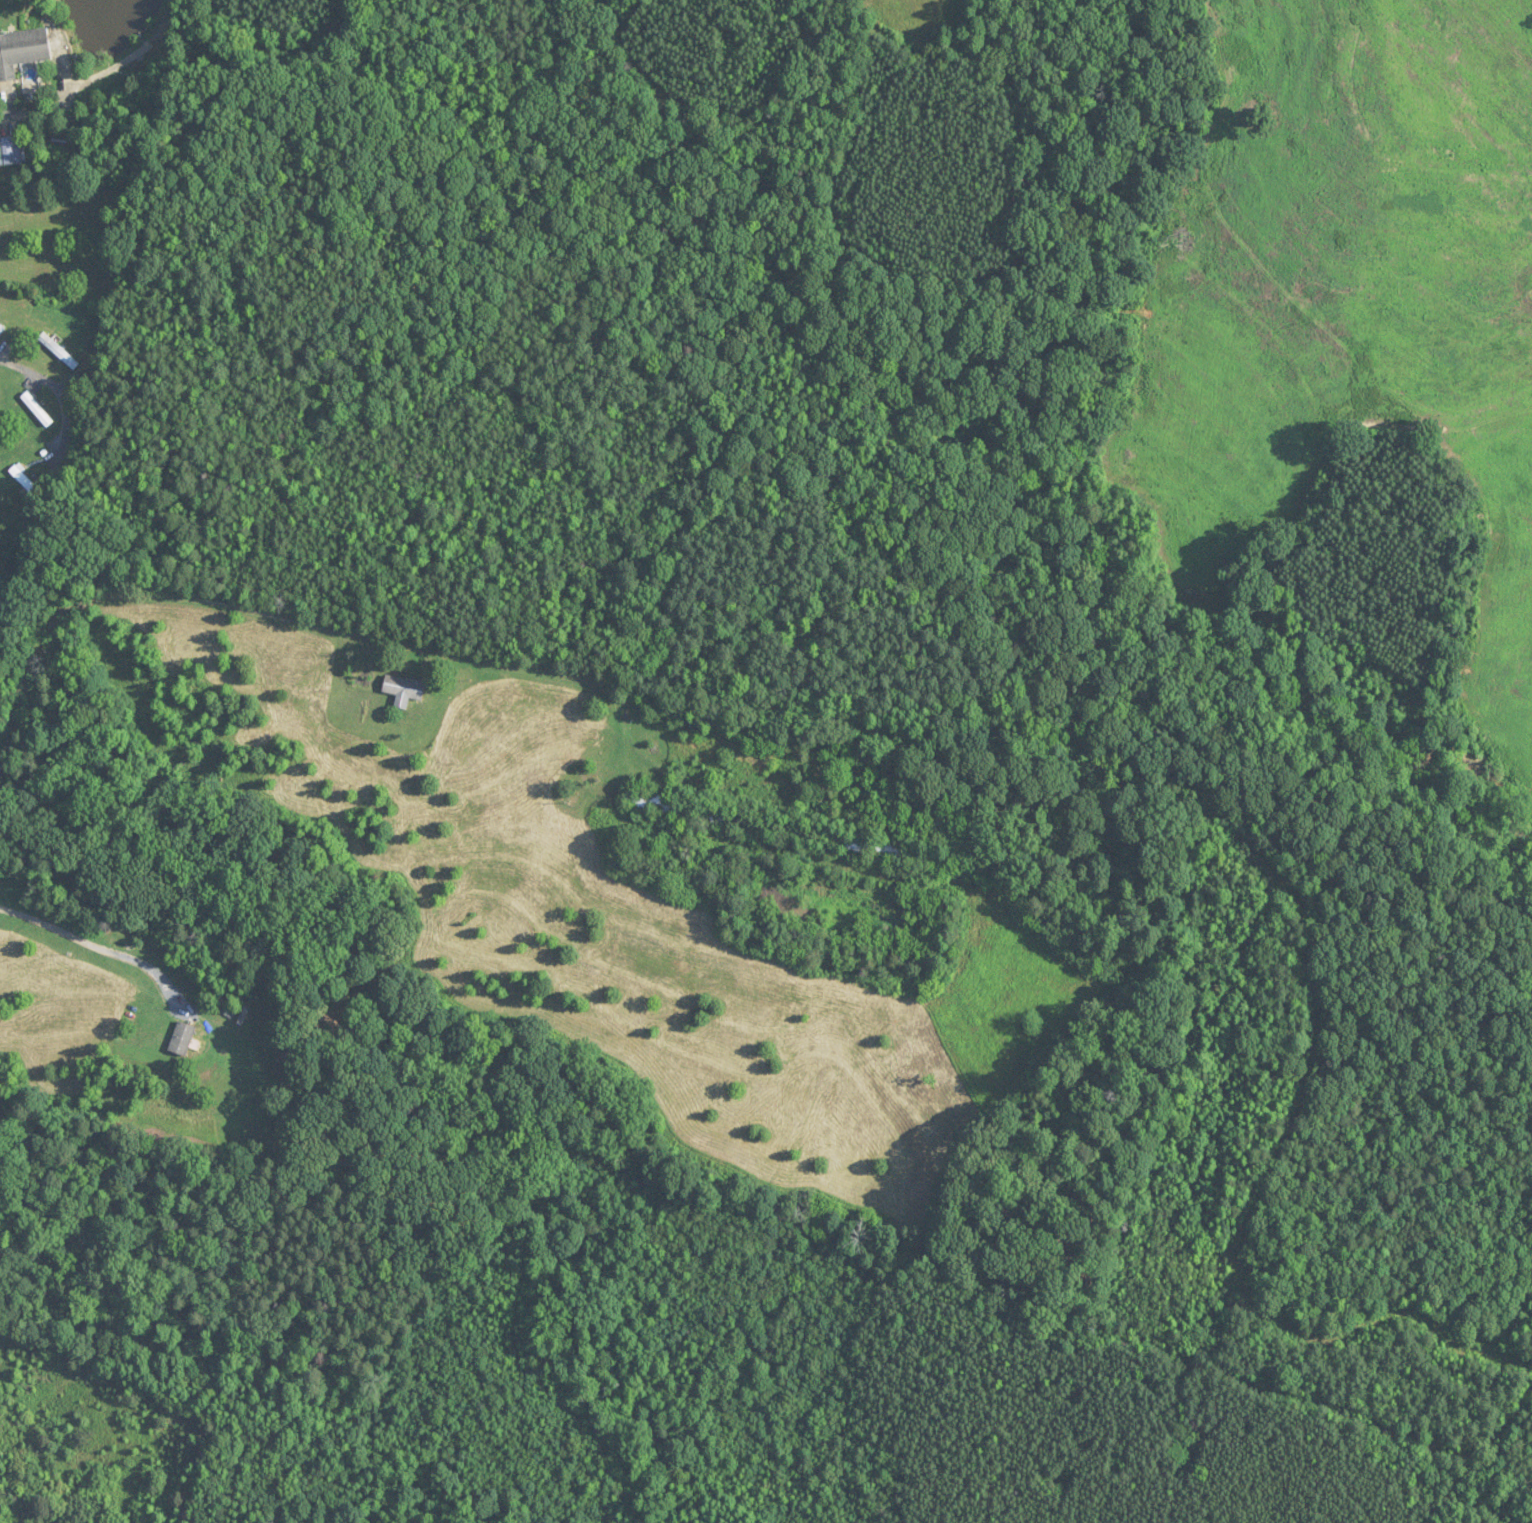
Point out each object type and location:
building: (22, 50)
building: (10, 151)
building: (1, 330)
building: (59, 351)
building: (37, 409)
building: (26, 480)
road: (172, 607)
building: (404, 690)
building: (910, 854)
road: (94, 942)
building: (182, 1039)

